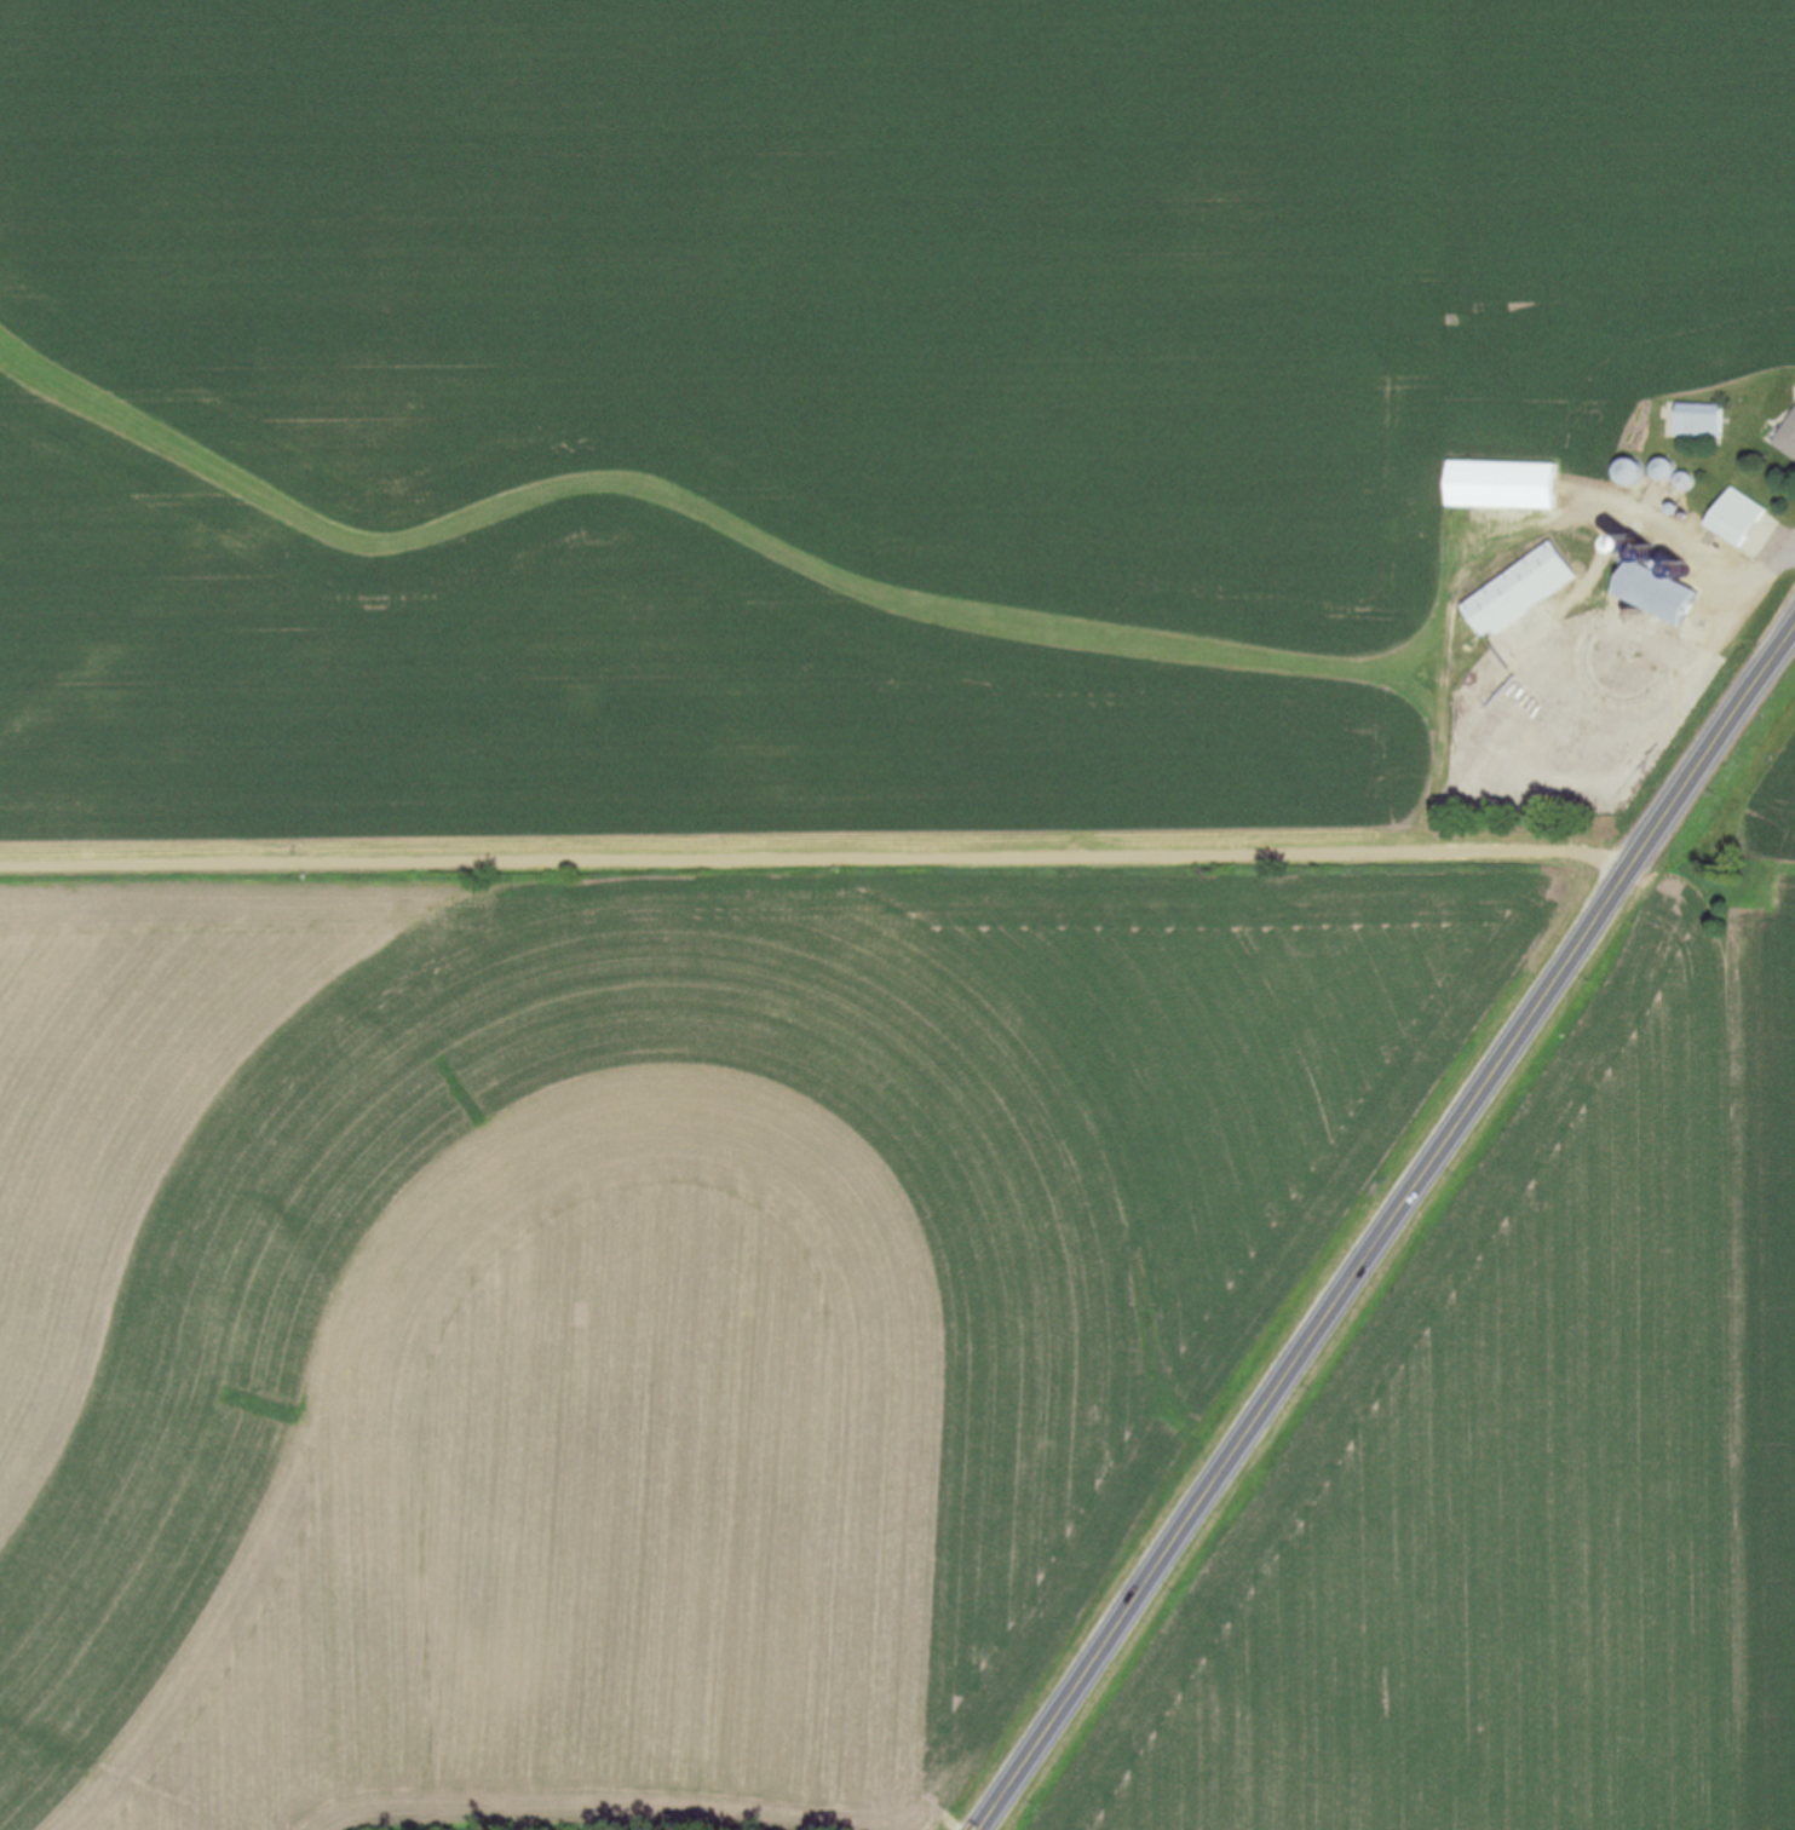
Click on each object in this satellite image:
road: (1794, 545)
road: (1704, 553)
crop: (744, 831)
road: (1391, 1239)

